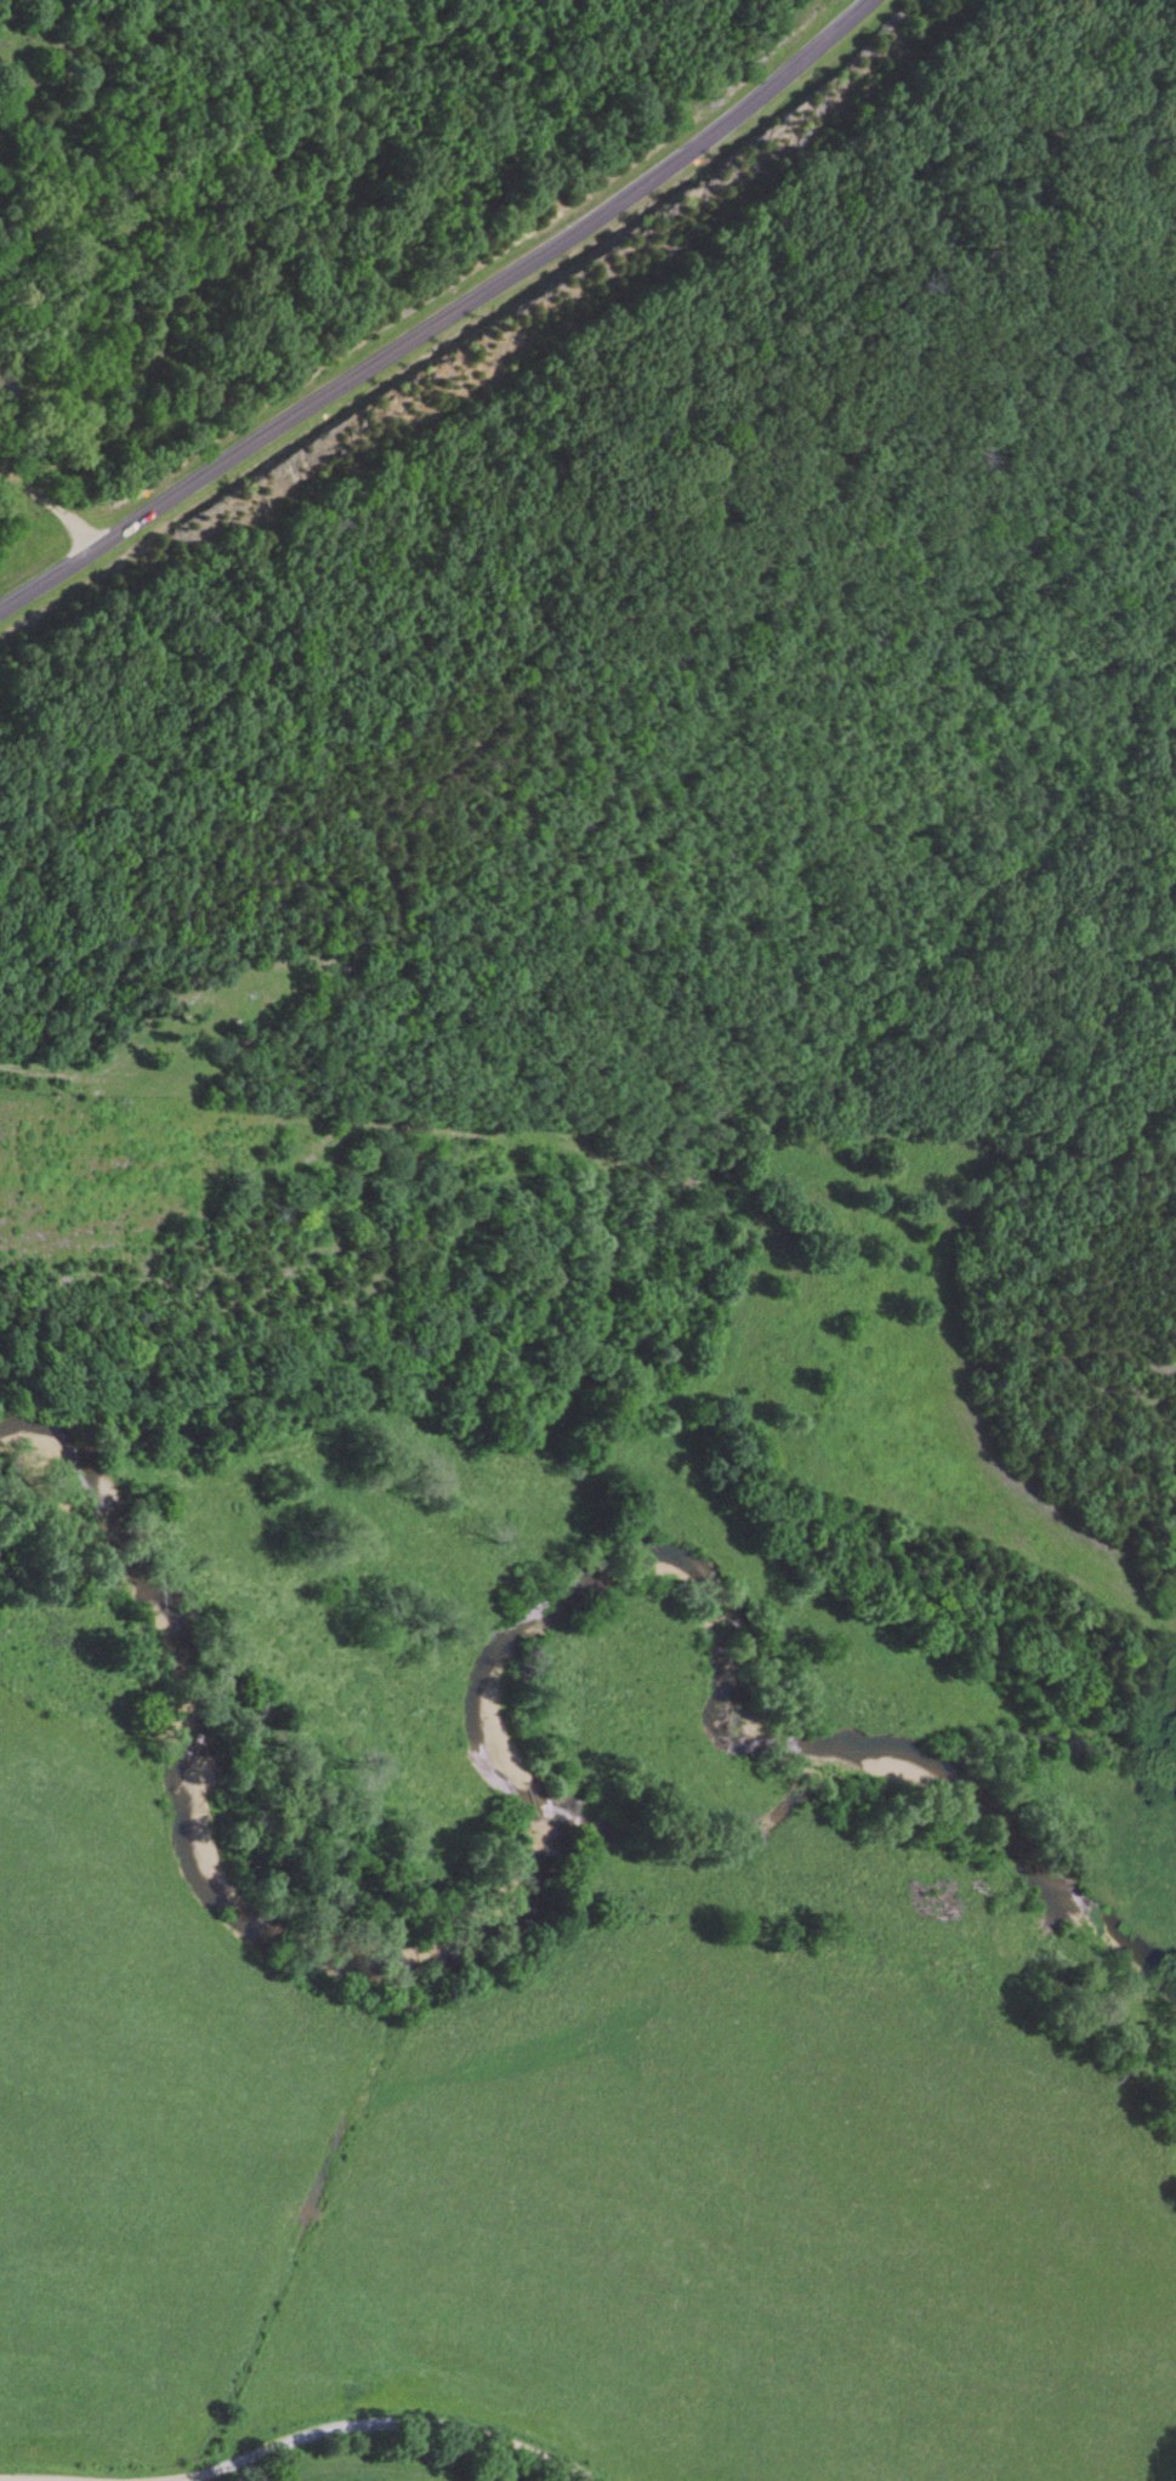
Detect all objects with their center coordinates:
road: (455, 324)
road: (45, 516)
road: (380, 2429)
road: (17, 2480)

